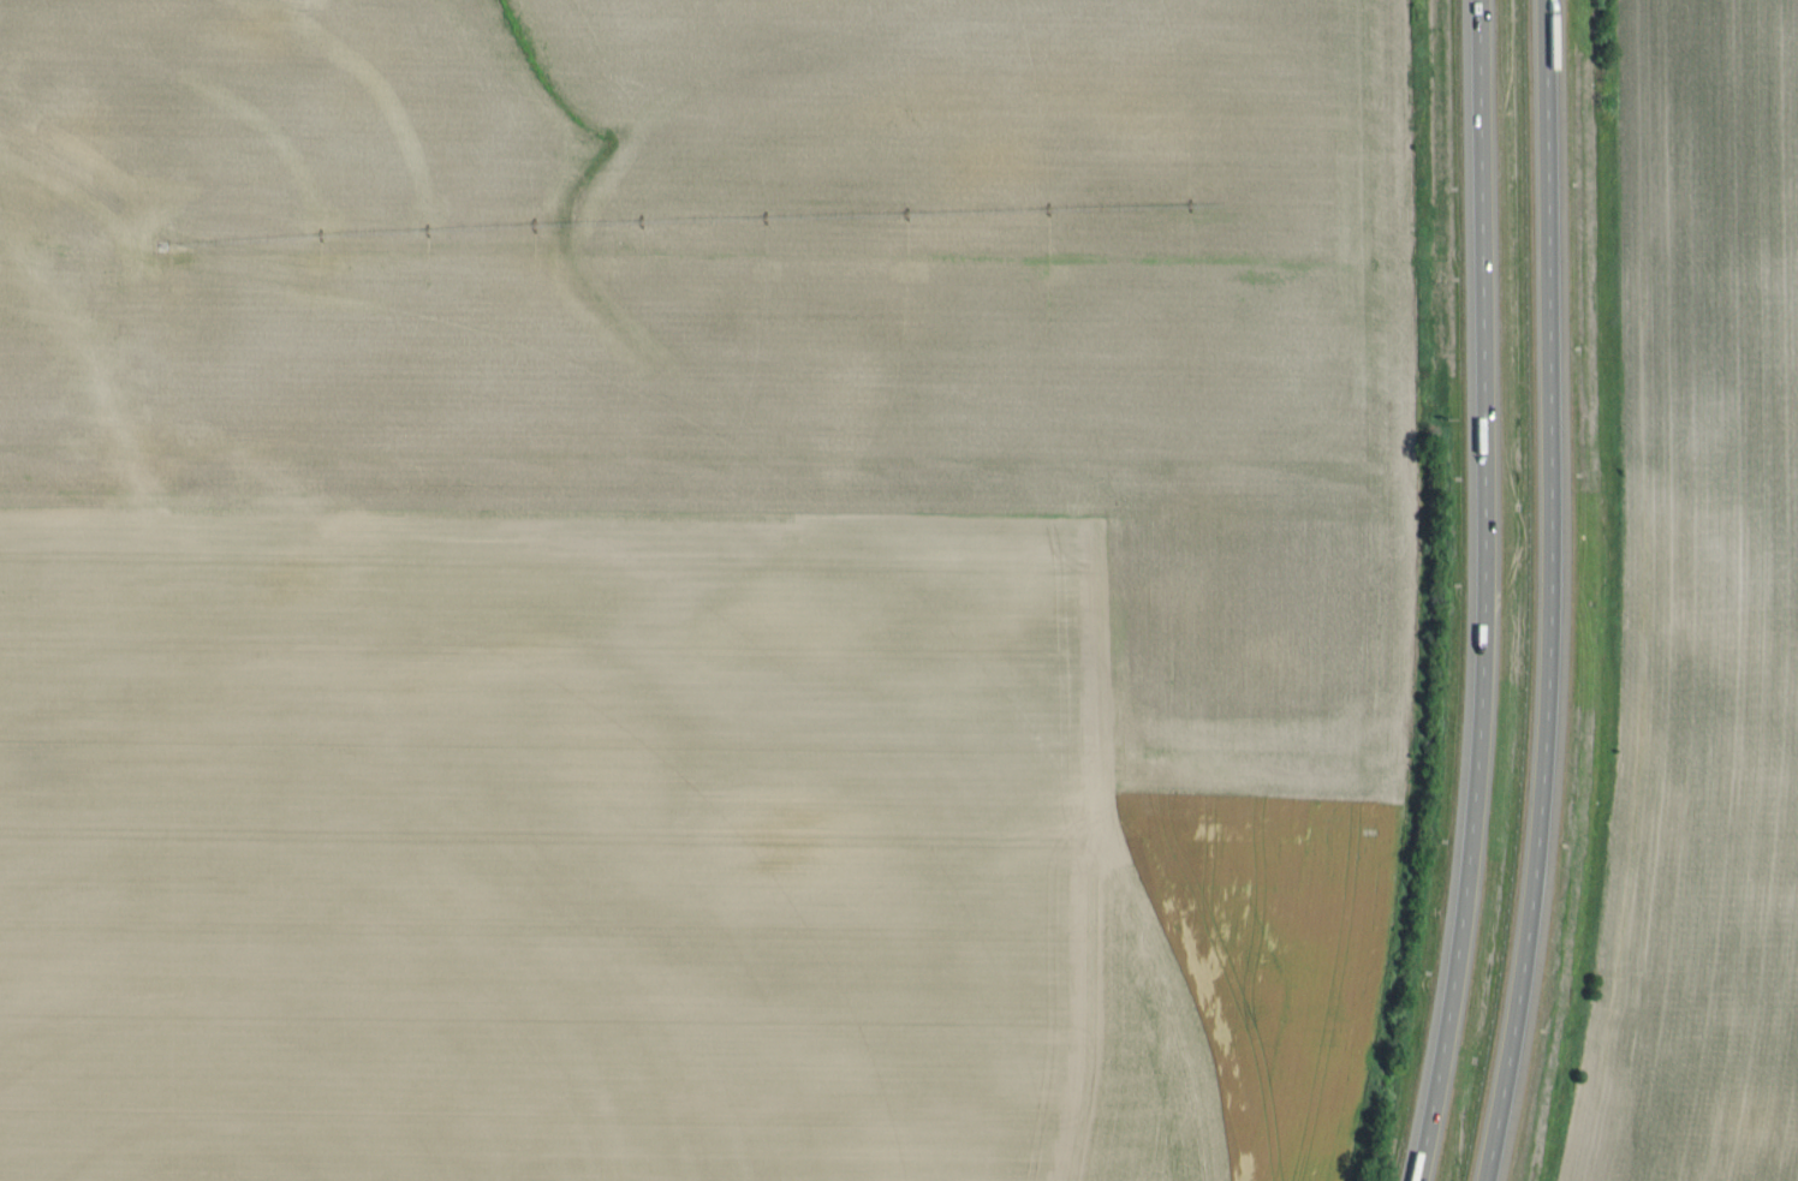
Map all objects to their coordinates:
road: (1481, 592)
road: (1547, 592)

